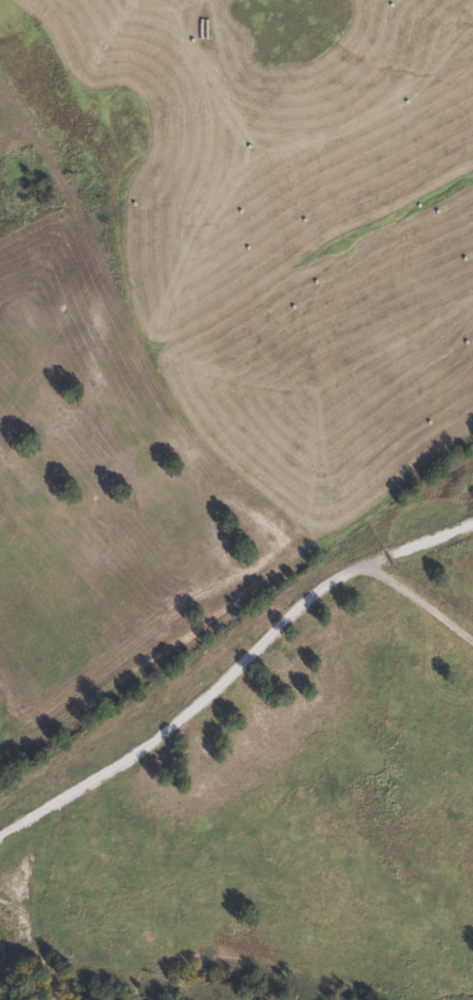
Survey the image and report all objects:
road: (240, 690)

